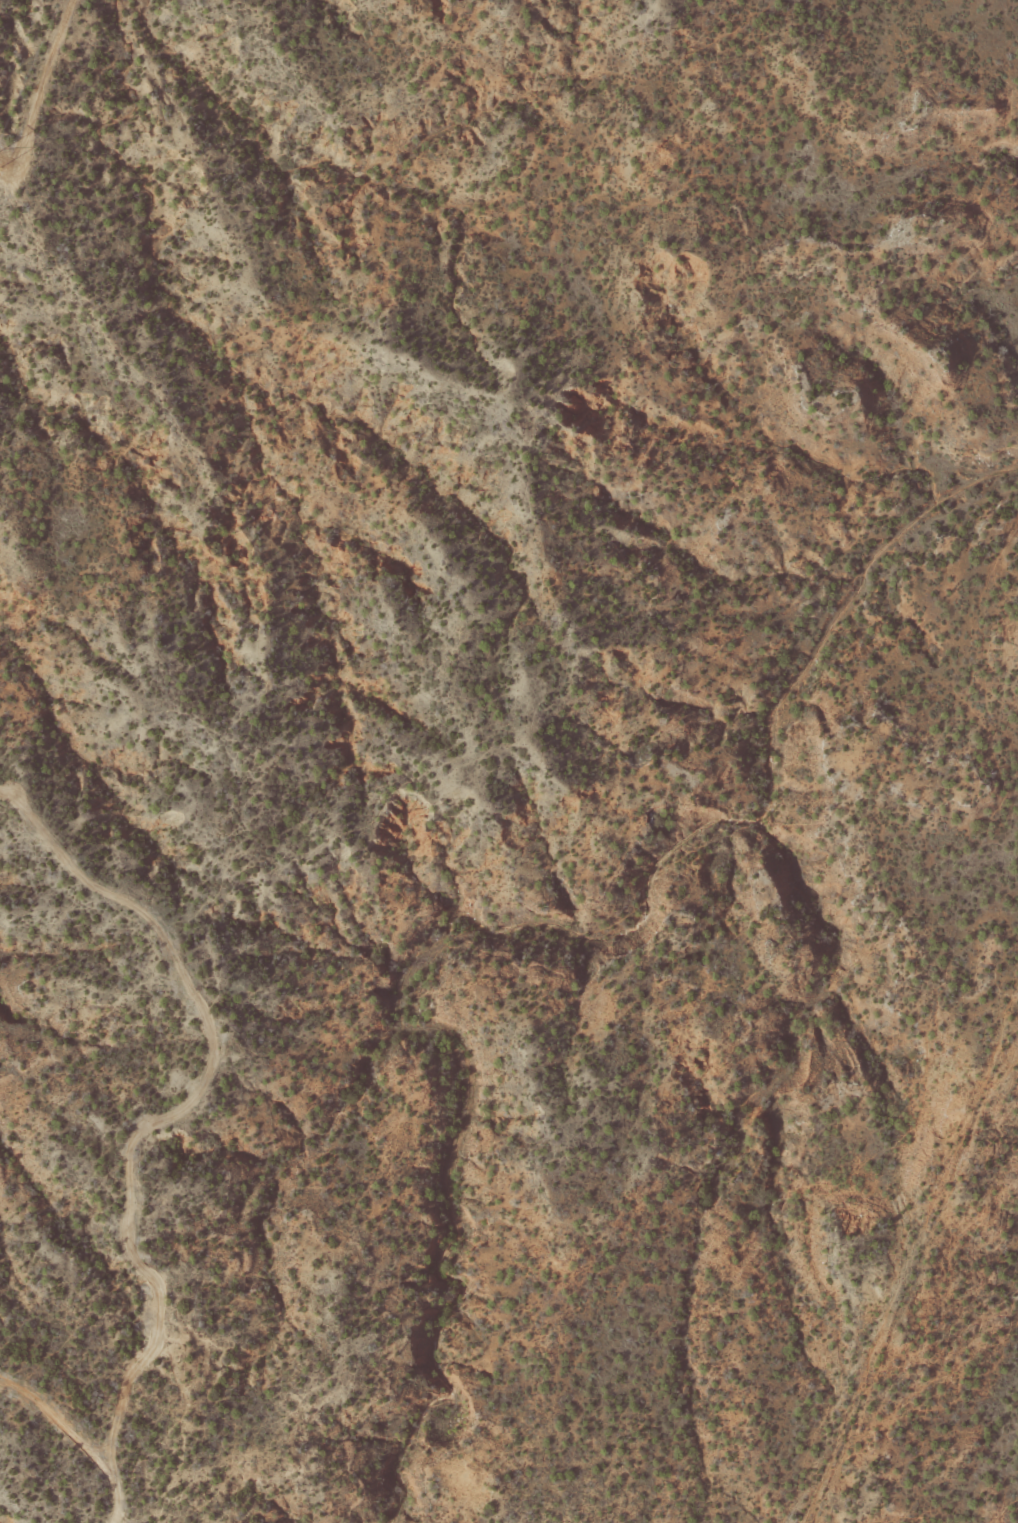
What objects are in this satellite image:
road: (835, 1362)

